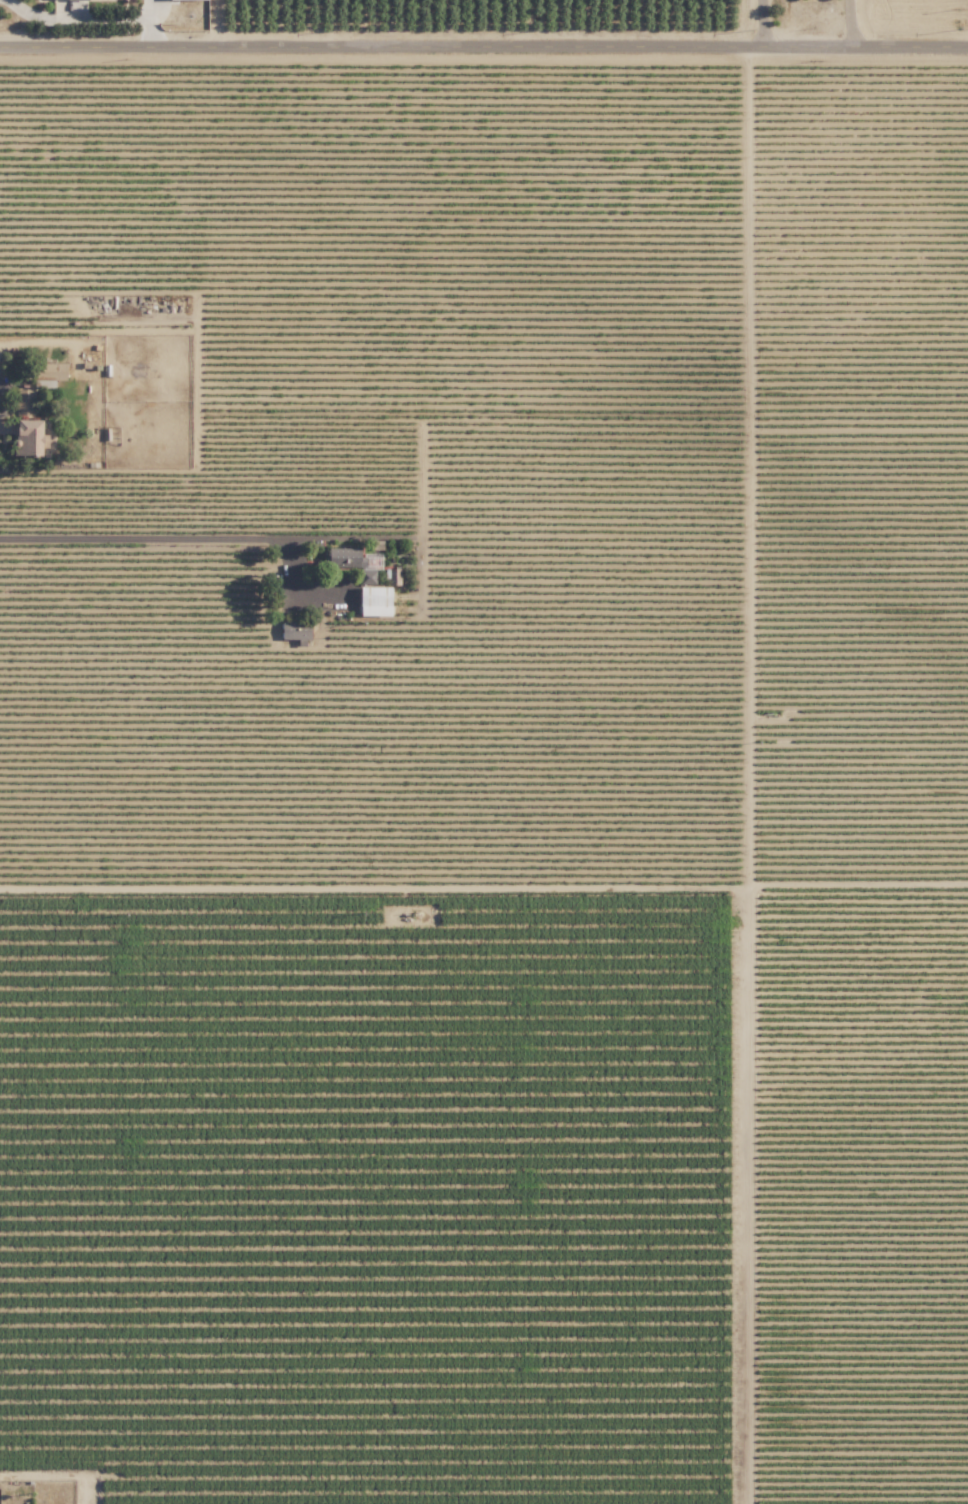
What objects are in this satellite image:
road: (761, 23)
road: (851, 23)
road: (484, 47)
building: (56, 371)
building: (31, 438)
road: (175, 537)
building: (377, 601)
building: (298, 631)

